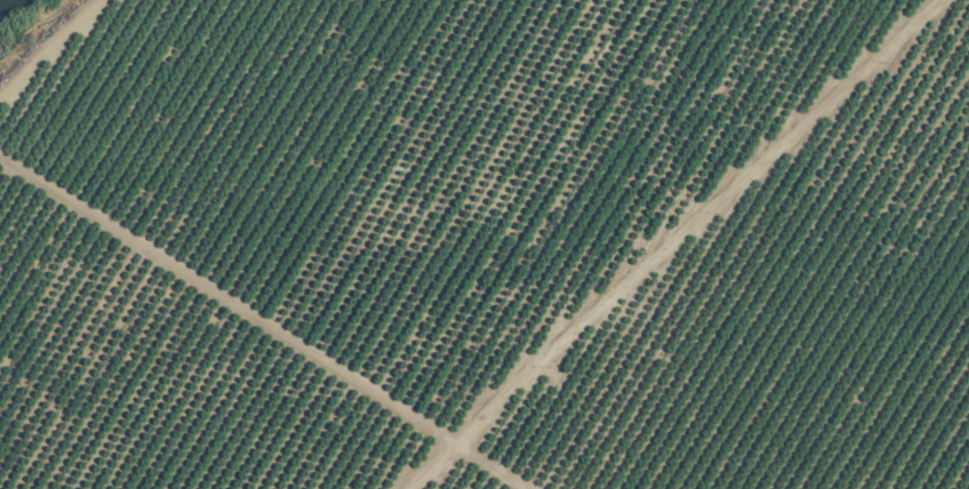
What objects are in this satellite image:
river: (13, 9)
road: (668, 241)

